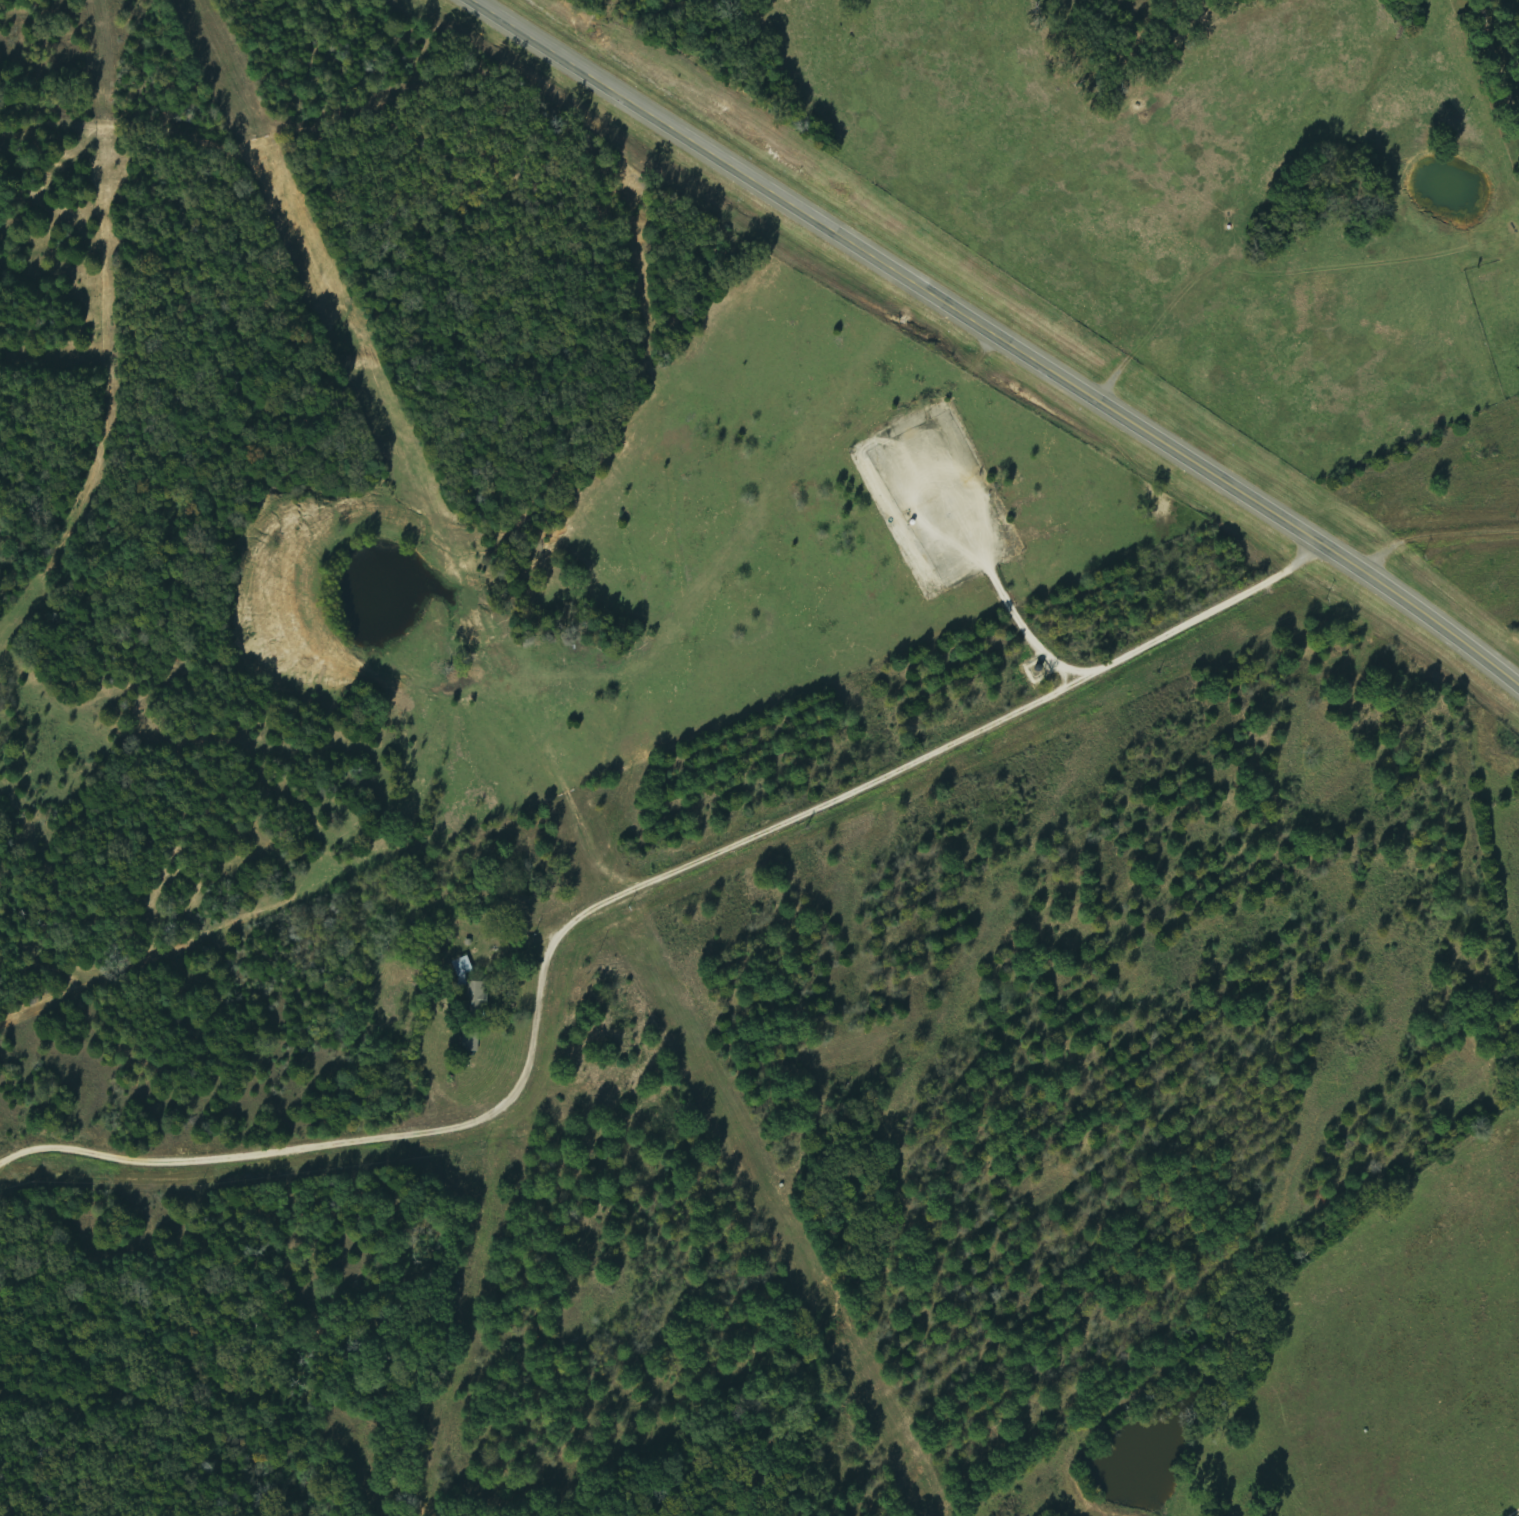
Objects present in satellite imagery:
road: (1001, 335)
building: (470, 984)
building: (468, 1041)

